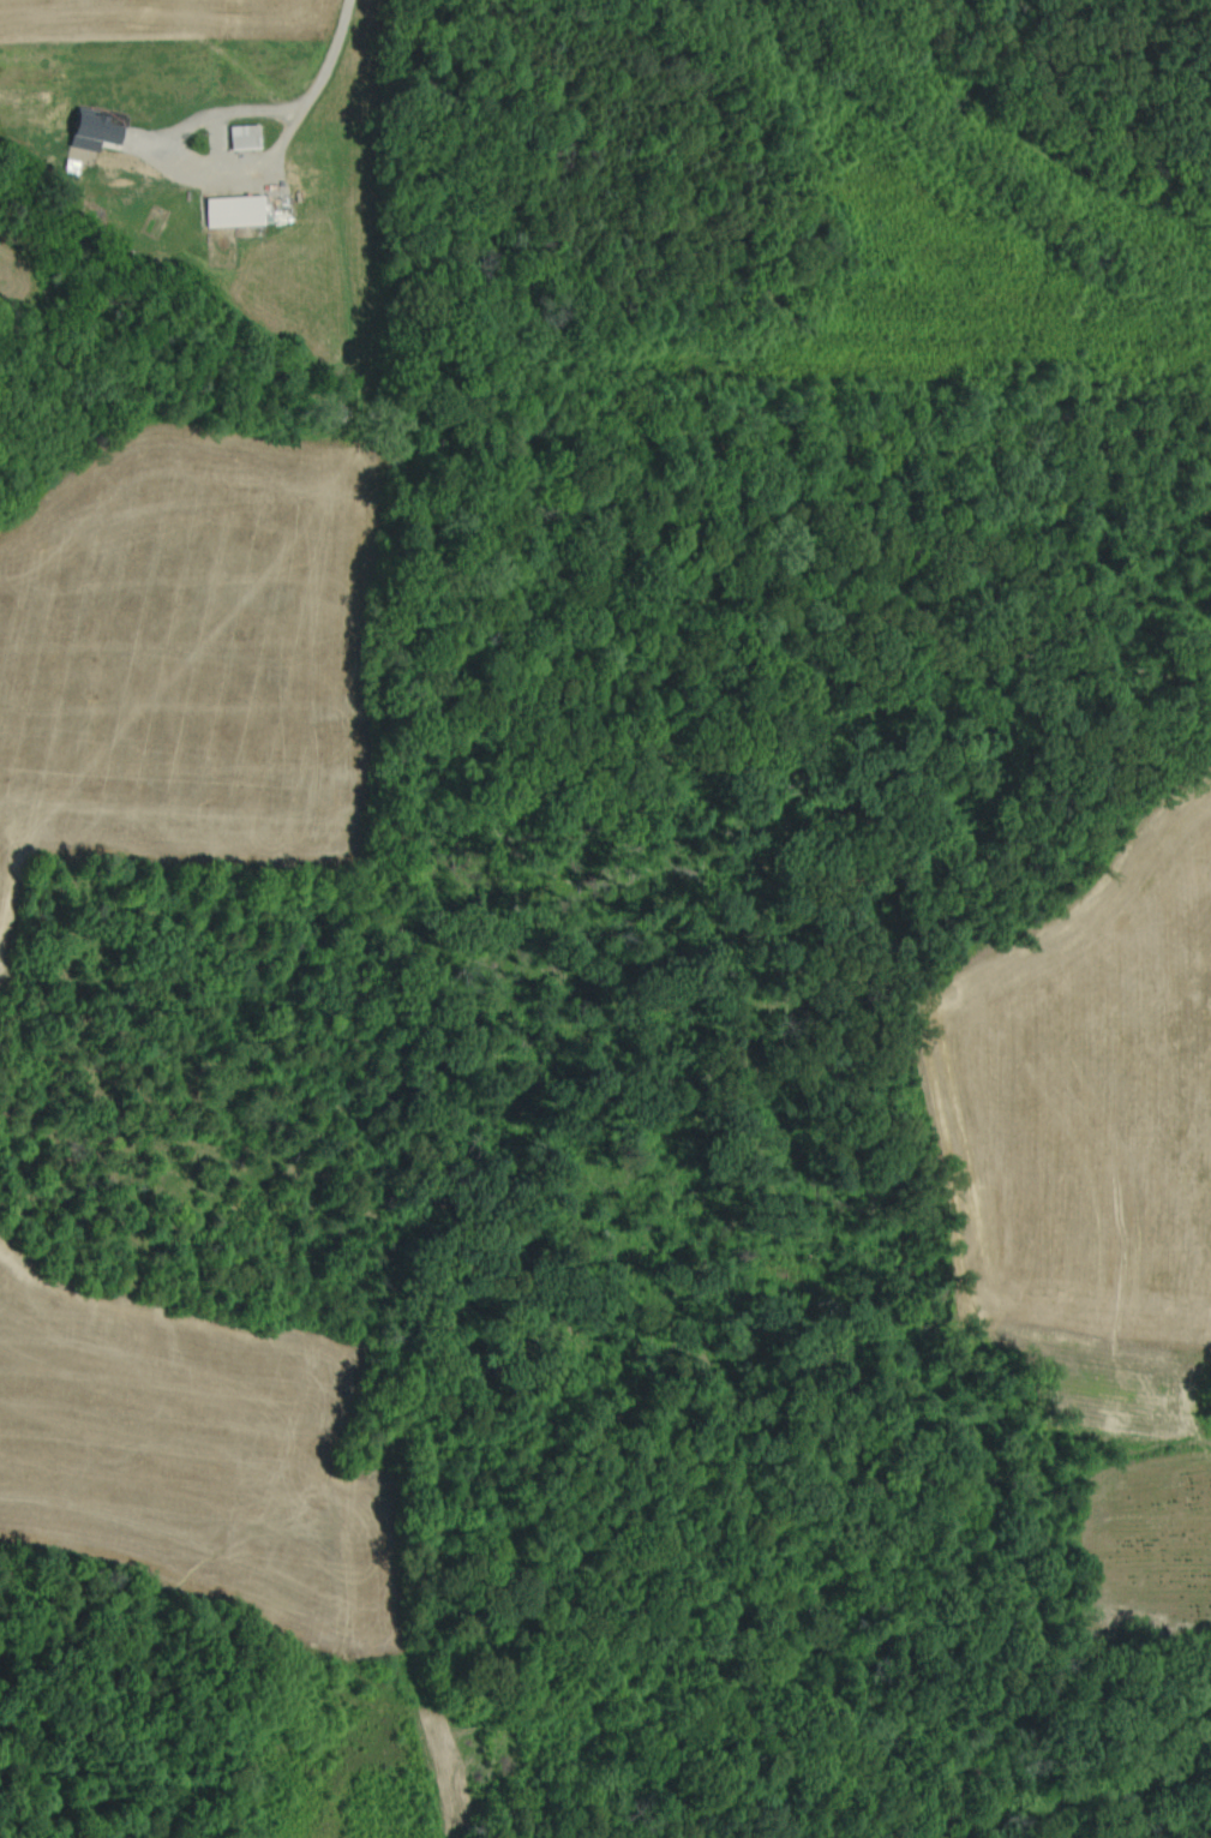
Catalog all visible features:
road: (312, 89)
building: (89, 131)
building: (241, 136)
building: (232, 210)

